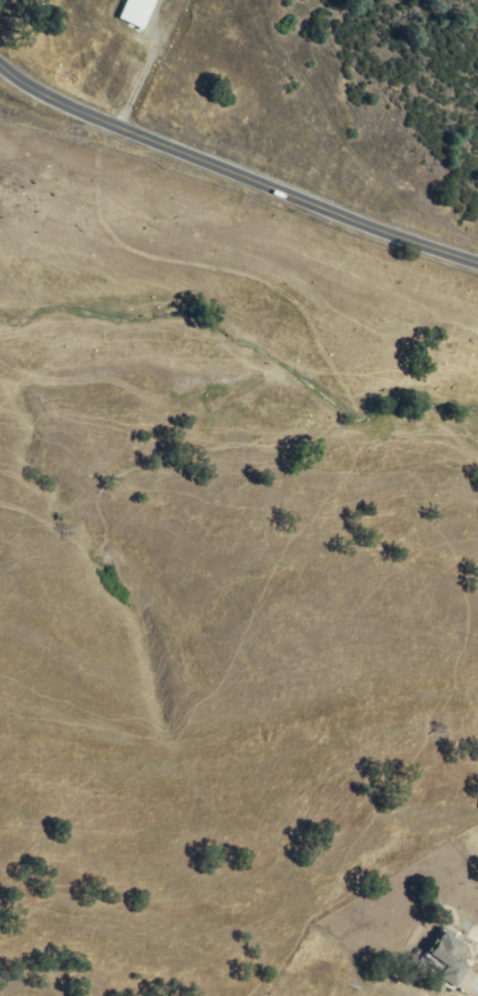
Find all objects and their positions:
building: (136, 11)
road: (234, 177)
building: (447, 958)
road: (477, 992)

